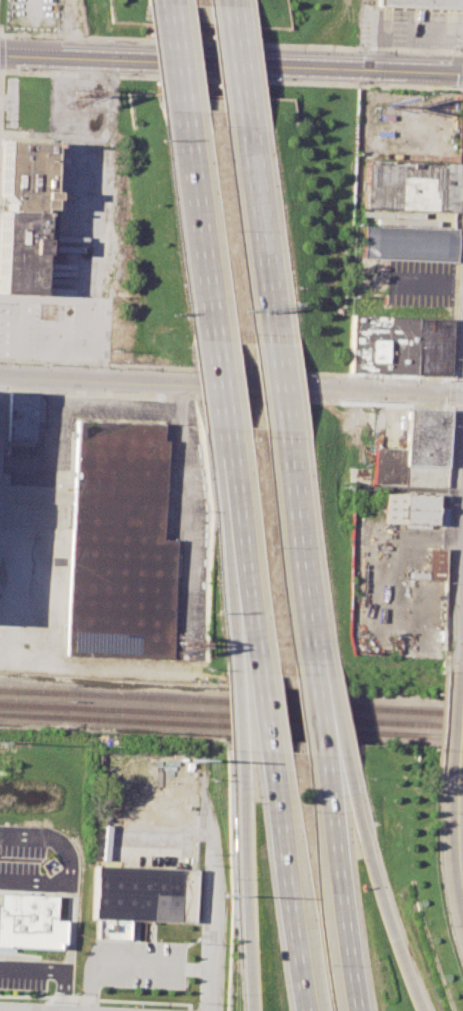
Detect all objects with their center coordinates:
building: (423, 2)
road: (231, 43)
road: (0, 53)
road: (237, 57)
road: (231, 63)
road: (176, 64)
street lamp: (14, 70)
street lamp: (107, 73)
street lamp: (275, 79)
road: (231, 80)
street lamp: (351, 83)
street lamp: (446, 86)
street lamp: (462, 95)
parking lot: (9, 101)
building: (407, 184)
street lamp: (461, 201)
building: (24, 216)
road: (260, 229)
parking lot: (72, 233)
road: (199, 234)
building: (406, 242)
street lamp: (458, 281)
building: (400, 346)
street lamp: (456, 360)
road: (226, 369)
road: (231, 384)
road: (281, 387)
road: (52, 388)
road: (219, 388)
road: (451, 393)
road: (181, 395)
road: (116, 403)
building: (20, 415)
road: (48, 452)
building: (415, 453)
parking lot: (40, 464)
road: (180, 468)
building: (414, 510)
building: (118, 543)
road: (239, 554)
road: (302, 555)
building: (433, 564)
railway: (35, 691)
railway: (267, 702)
railway: (35, 705)
road: (259, 713)
railway: (35, 715)
railway: (266, 716)
road: (321, 716)
road: (440, 722)
railway: (266, 727)
road: (462, 748)
power tower: (192, 759)
road: (265, 762)
road: (326, 763)
road: (460, 819)
road: (49, 839)
road: (440, 875)
road: (382, 889)
road: (249, 890)
road: (286, 891)
road: (340, 892)
building: (141, 893)
power tower: (228, 894)
building: (28, 921)
road: (68, 922)
road: (212, 923)
road: (135, 964)
road: (90, 986)
road: (63, 990)

